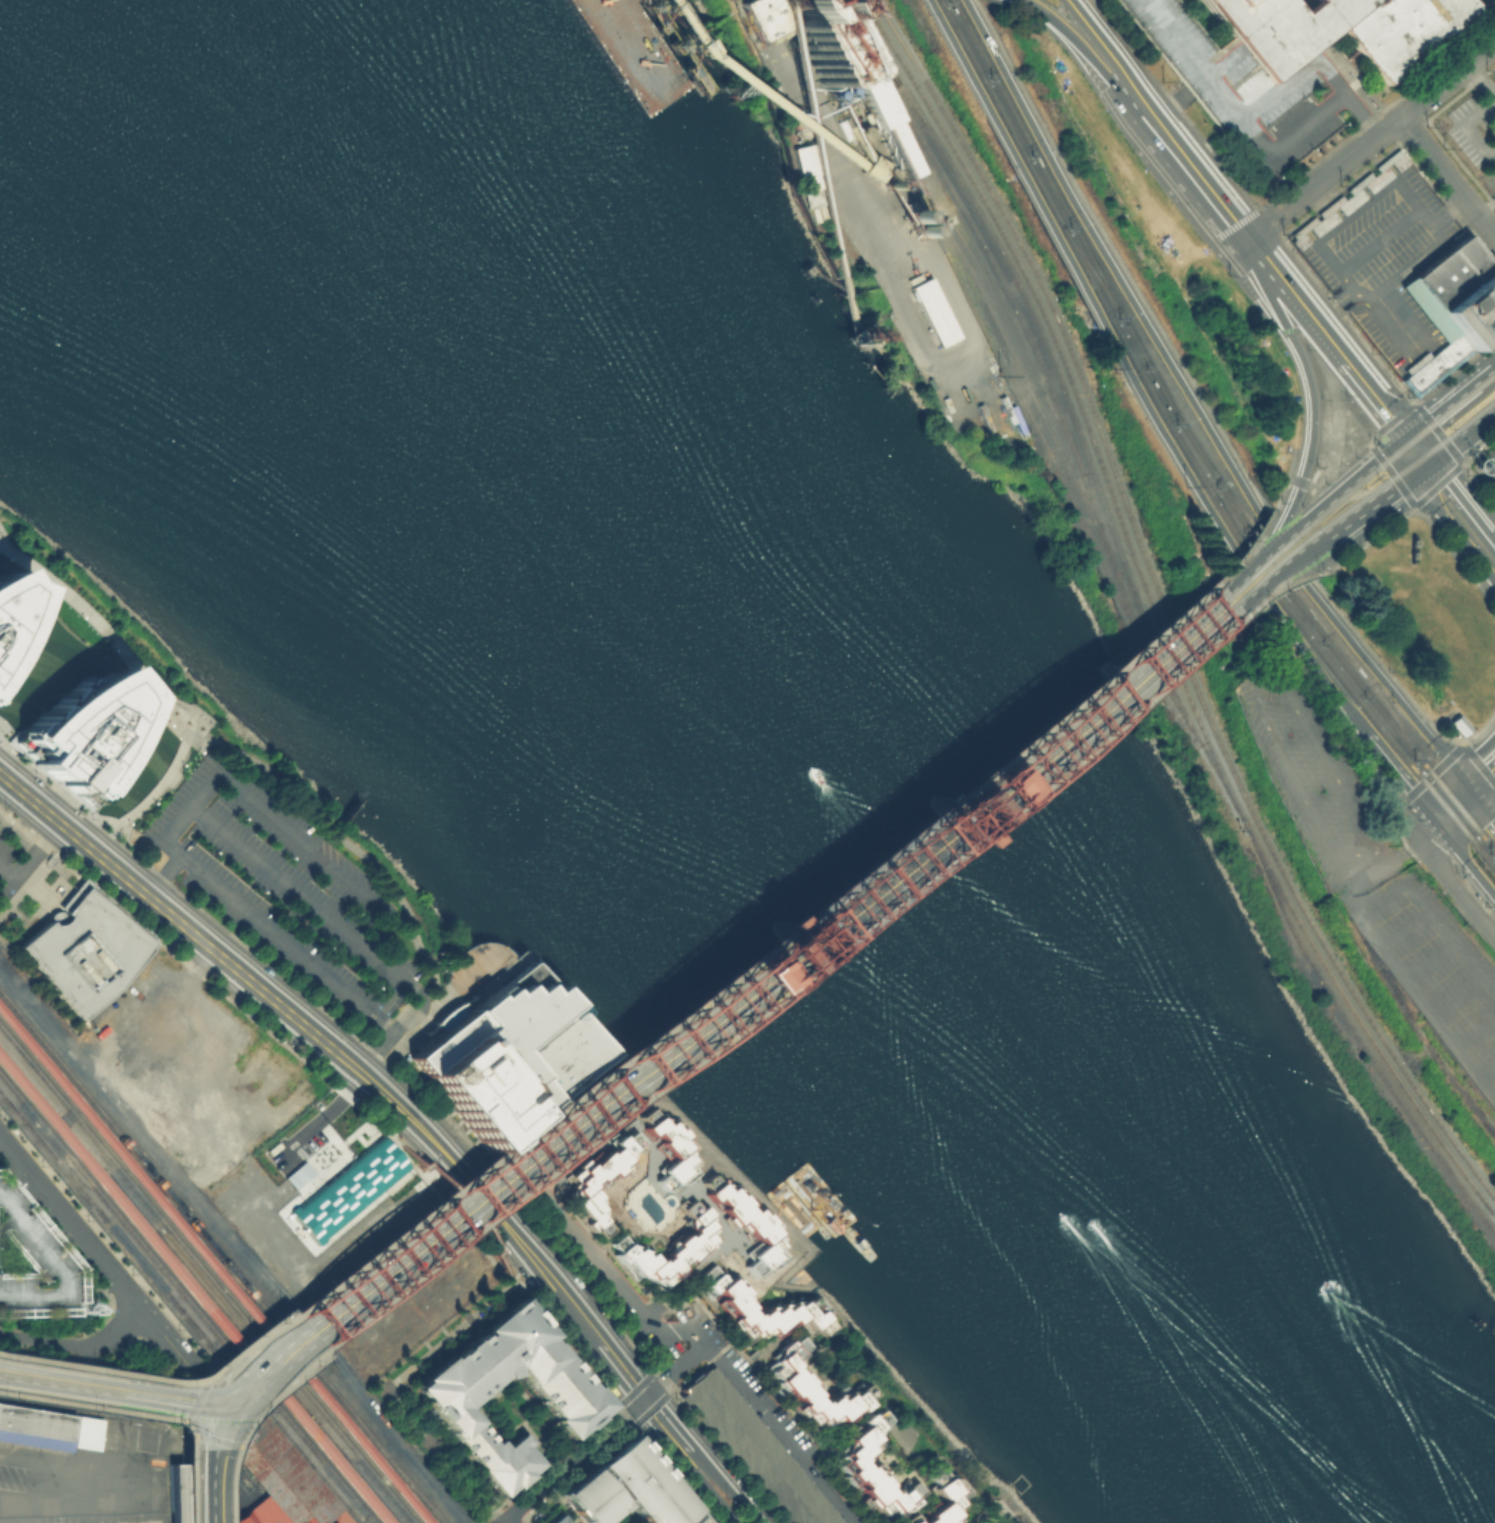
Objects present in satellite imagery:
road: (1009, 3)
road: (1034, 9)
building: (780, 15)
building: (1336, 29)
building: (823, 47)
road: (1106, 47)
pier: (685, 51)
road: (1321, 60)
road: (1092, 66)
road: (1223, 66)
parking lot: (1256, 94)
road: (808, 100)
road: (1243, 115)
building: (884, 117)
parking lot: (1473, 127)
building: (685, 129)
road: (1372, 138)
road: (1194, 167)
building: (810, 178)
road: (1447, 178)
parking lot: (1488, 180)
road: (1404, 189)
building: (1353, 193)
road: (1229, 225)
road: (1379, 239)
road: (1207, 244)
road: (1262, 253)
parking lot: (1384, 263)
railway: (982, 271)
railway: (1093, 272)
building: (1455, 292)
railway: (1016, 305)
road: (1093, 305)
road: (1329, 306)
building: (937, 315)
road: (1395, 317)
road: (1285, 328)
road: (1313, 333)
railway: (1049, 353)
road: (1341, 353)
road: (1302, 357)
building: (1434, 364)
road: (1485, 371)
road: (974, 375)
railway: (1023, 379)
road: (1469, 385)
road: (1196, 406)
railway: (1026, 408)
road: (1434, 413)
road: (1380, 431)
traffic signals: (1406, 438)
road: (1460, 438)
railway: (1194, 445)
railway: (1400, 449)
road: (1415, 451)
parking lot: (1492, 453)
railway: (1187, 454)
road: (1339, 464)
traffic signals: (1425, 464)
railway: (1405, 469)
road: (1390, 473)
parking lot: (1490, 477)
road: (1301, 479)
road: (1356, 480)
road: (1299, 481)
road: (1283, 486)
railway: (1360, 493)
road: (1426, 495)
road: (1378, 496)
road: (1459, 510)
road: (1267, 518)
road: (1285, 521)
road: (1267, 527)
road: (1280, 533)
road: (1299, 533)
road: (1325, 536)
road: (1374, 536)
road: (1305, 543)
road: (1267, 555)
road: (1272, 560)
road: (1293, 569)
road: (1300, 578)
road: (1238, 587)
road: (1260, 601)
railway: (1167, 610)
building: (11, 611)
railway: (1320, 617)
railway: (1157, 620)
road: (113, 642)
road: (1314, 666)
railway: (1126, 672)
road: (1094, 673)
railway: (1130, 678)
road: (1256, 692)
road: (1085, 709)
road: (1113, 715)
building: (1458, 724)
building: (84, 729)
traffic signals: (1044, 743)
river: (712, 760)
road: (1480, 773)
road: (1395, 775)
traffic signals: (1467, 787)
road: (146, 798)
road: (1449, 804)
road: (1480, 805)
road: (141, 813)
traffic signals: (1432, 821)
road: (174, 822)
road: (20, 827)
building: (964, 837)
road: (300, 844)
railway: (905, 847)
road: (353, 849)
road: (36, 850)
railway: (1493, 850)
road: (908, 851)
railway: (910, 853)
road: (1399, 854)
road: (1463, 859)
road: (856, 862)
parking lot: (15, 866)
road: (7, 870)
road: (162, 875)
road: (1450, 881)
road: (854, 894)
parking lot: (289, 896)
road: (884, 898)
railway: (829, 908)
railway: (834, 914)
building: (773, 921)
road: (816, 924)
road: (184, 928)
building: (89, 952)
road: (1411, 973)
traffic signals: (698, 1019)
road: (389, 1032)
road: (403, 1040)
railway: (1359, 1043)
building: (506, 1055)
railway: (55, 1057)
railway: (47, 1081)
road: (321, 1116)
road: (682, 1120)
road: (416, 1124)
road: (402, 1126)
road: (505, 1142)
building: (667, 1147)
road: (534, 1149)
road: (577, 1155)
road: (423, 1164)
building: (296, 1174)
road: (34, 1182)
building: (580, 1184)
road: (525, 1185)
building: (346, 1189)
road: (448, 1209)
building: (745, 1223)
railway: (418, 1237)
railway: (418, 1245)
building: (668, 1248)
road: (495, 1253)
road: (532, 1256)
railway: (216, 1262)
road: (103, 1266)
building: (33, 1267)
parking lot: (33, 1267)
railway: (210, 1270)
railway: (201, 1281)
railway: (197, 1285)
railway: (190, 1294)
railway: (188, 1298)
road: (155, 1300)
building: (201, 1301)
railway: (181, 1308)
building: (760, 1308)
road: (123, 1323)
railway: (275, 1323)
railway: (254, 1330)
road: (113, 1333)
road: (39, 1338)
road: (701, 1341)
road: (70, 1358)
road: (76, 1366)
road: (672, 1370)
road: (622, 1372)
road: (118, 1373)
road: (57, 1380)
road: (218, 1380)
road: (204, 1382)
road: (393, 1383)
road: (251, 1384)
parking lot: (88, 1387)
building: (811, 1387)
road: (83, 1390)
building: (569, 1395)
road: (150, 1397)
traffic signals: (644, 1399)
road: (186, 1400)
traffic signals: (223, 1404)
road: (200, 1405)
road: (203, 1405)
road: (92, 1406)
road: (234, 1412)
road: (217, 1426)
building: (47, 1427)
road: (670, 1431)
road: (208, 1440)
road: (901, 1446)
building: (754, 1450)
parking lot: (754, 1450)
road: (575, 1460)
road: (227, 1467)
building: (870, 1468)
road: (187, 1474)
building: (281, 1475)
road: (209, 1485)
building: (626, 1488)
road: (731, 1489)
building: (175, 1493)
road: (710, 1494)
building: (938, 1500)
road: (995, 1503)
road: (74, 1507)
road: (999, 1511)
building: (259, 1512)
road: (1006, 1512)
railway: (349, 1515)
road: (996, 1515)
road: (979, 1516)
building: (337, 1518)
building: (556, 1519)
building: (294, 1522)
road: (507, 1522)
building: (997, 1522)

